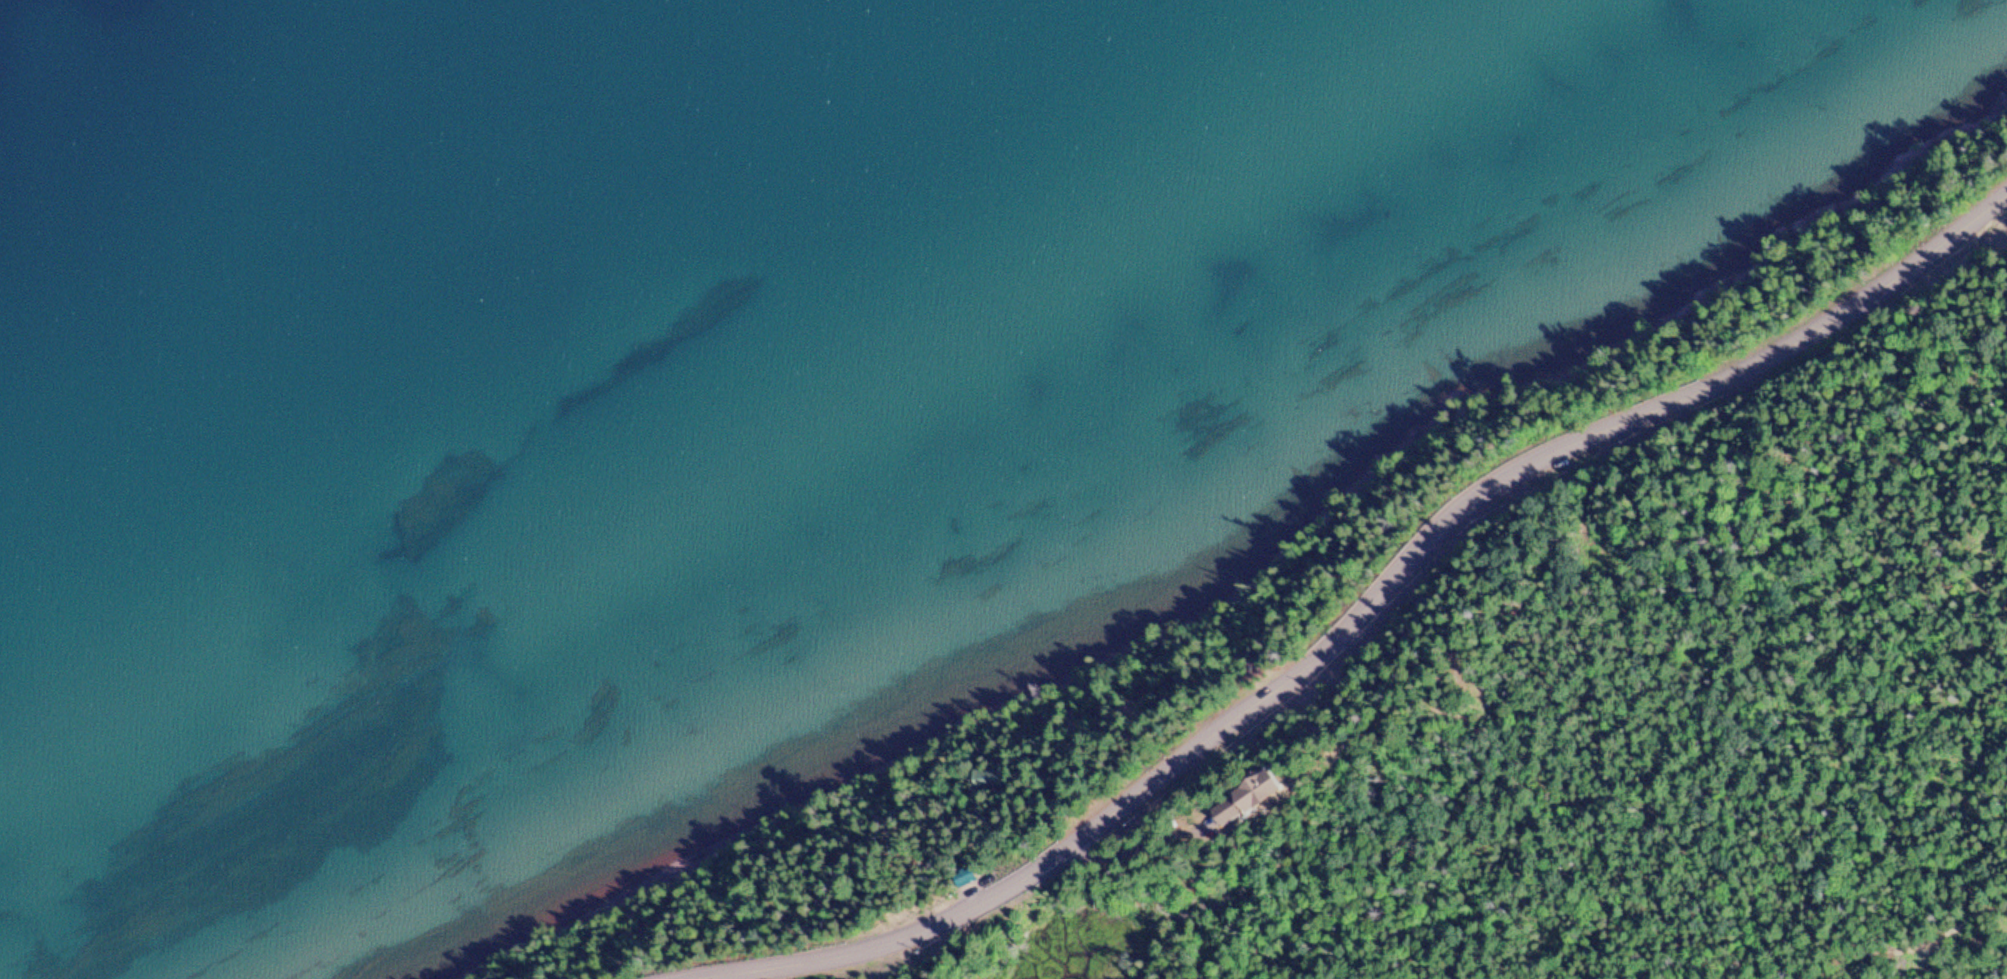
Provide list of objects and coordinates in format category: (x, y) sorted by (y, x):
road: (1366, 608)
building: (1243, 802)

